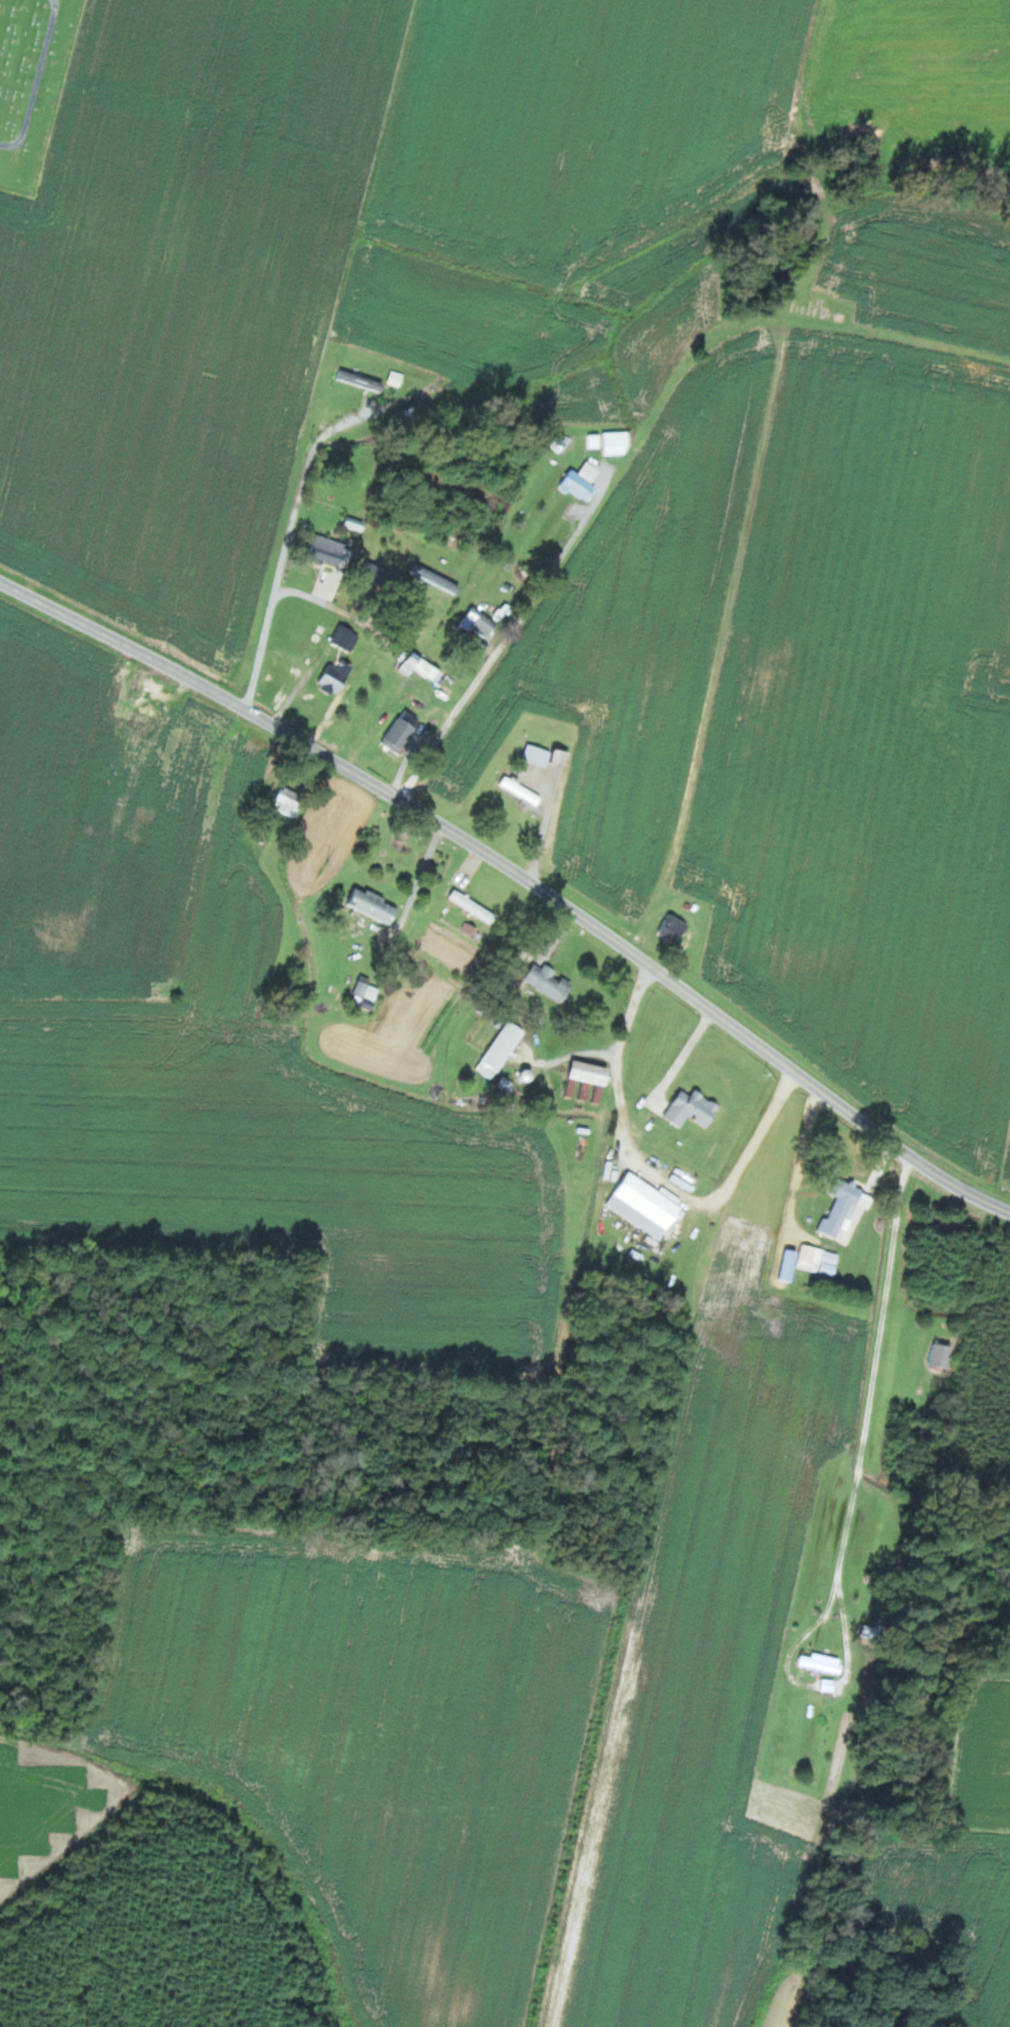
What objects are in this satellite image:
building: (363, 379)
building: (415, 415)
road: (325, 434)
building: (595, 440)
building: (618, 442)
building: (583, 481)
building: (332, 550)
building: (386, 578)
road: (317, 599)
building: (480, 625)
road: (508, 635)
building: (347, 637)
building: (421, 666)
building: (338, 675)
building: (403, 731)
building: (538, 755)
building: (522, 790)
building: (288, 801)
road: (519, 874)
building: (376, 905)
building: (474, 906)
building: (675, 928)
building: (551, 982)
building: (502, 1050)
building: (592, 1073)
building: (694, 1108)
road: (652, 1170)
building: (646, 1205)
building: (847, 1208)
building: (819, 1260)
building: (943, 1353)
road: (879, 1374)
building: (823, 1663)

